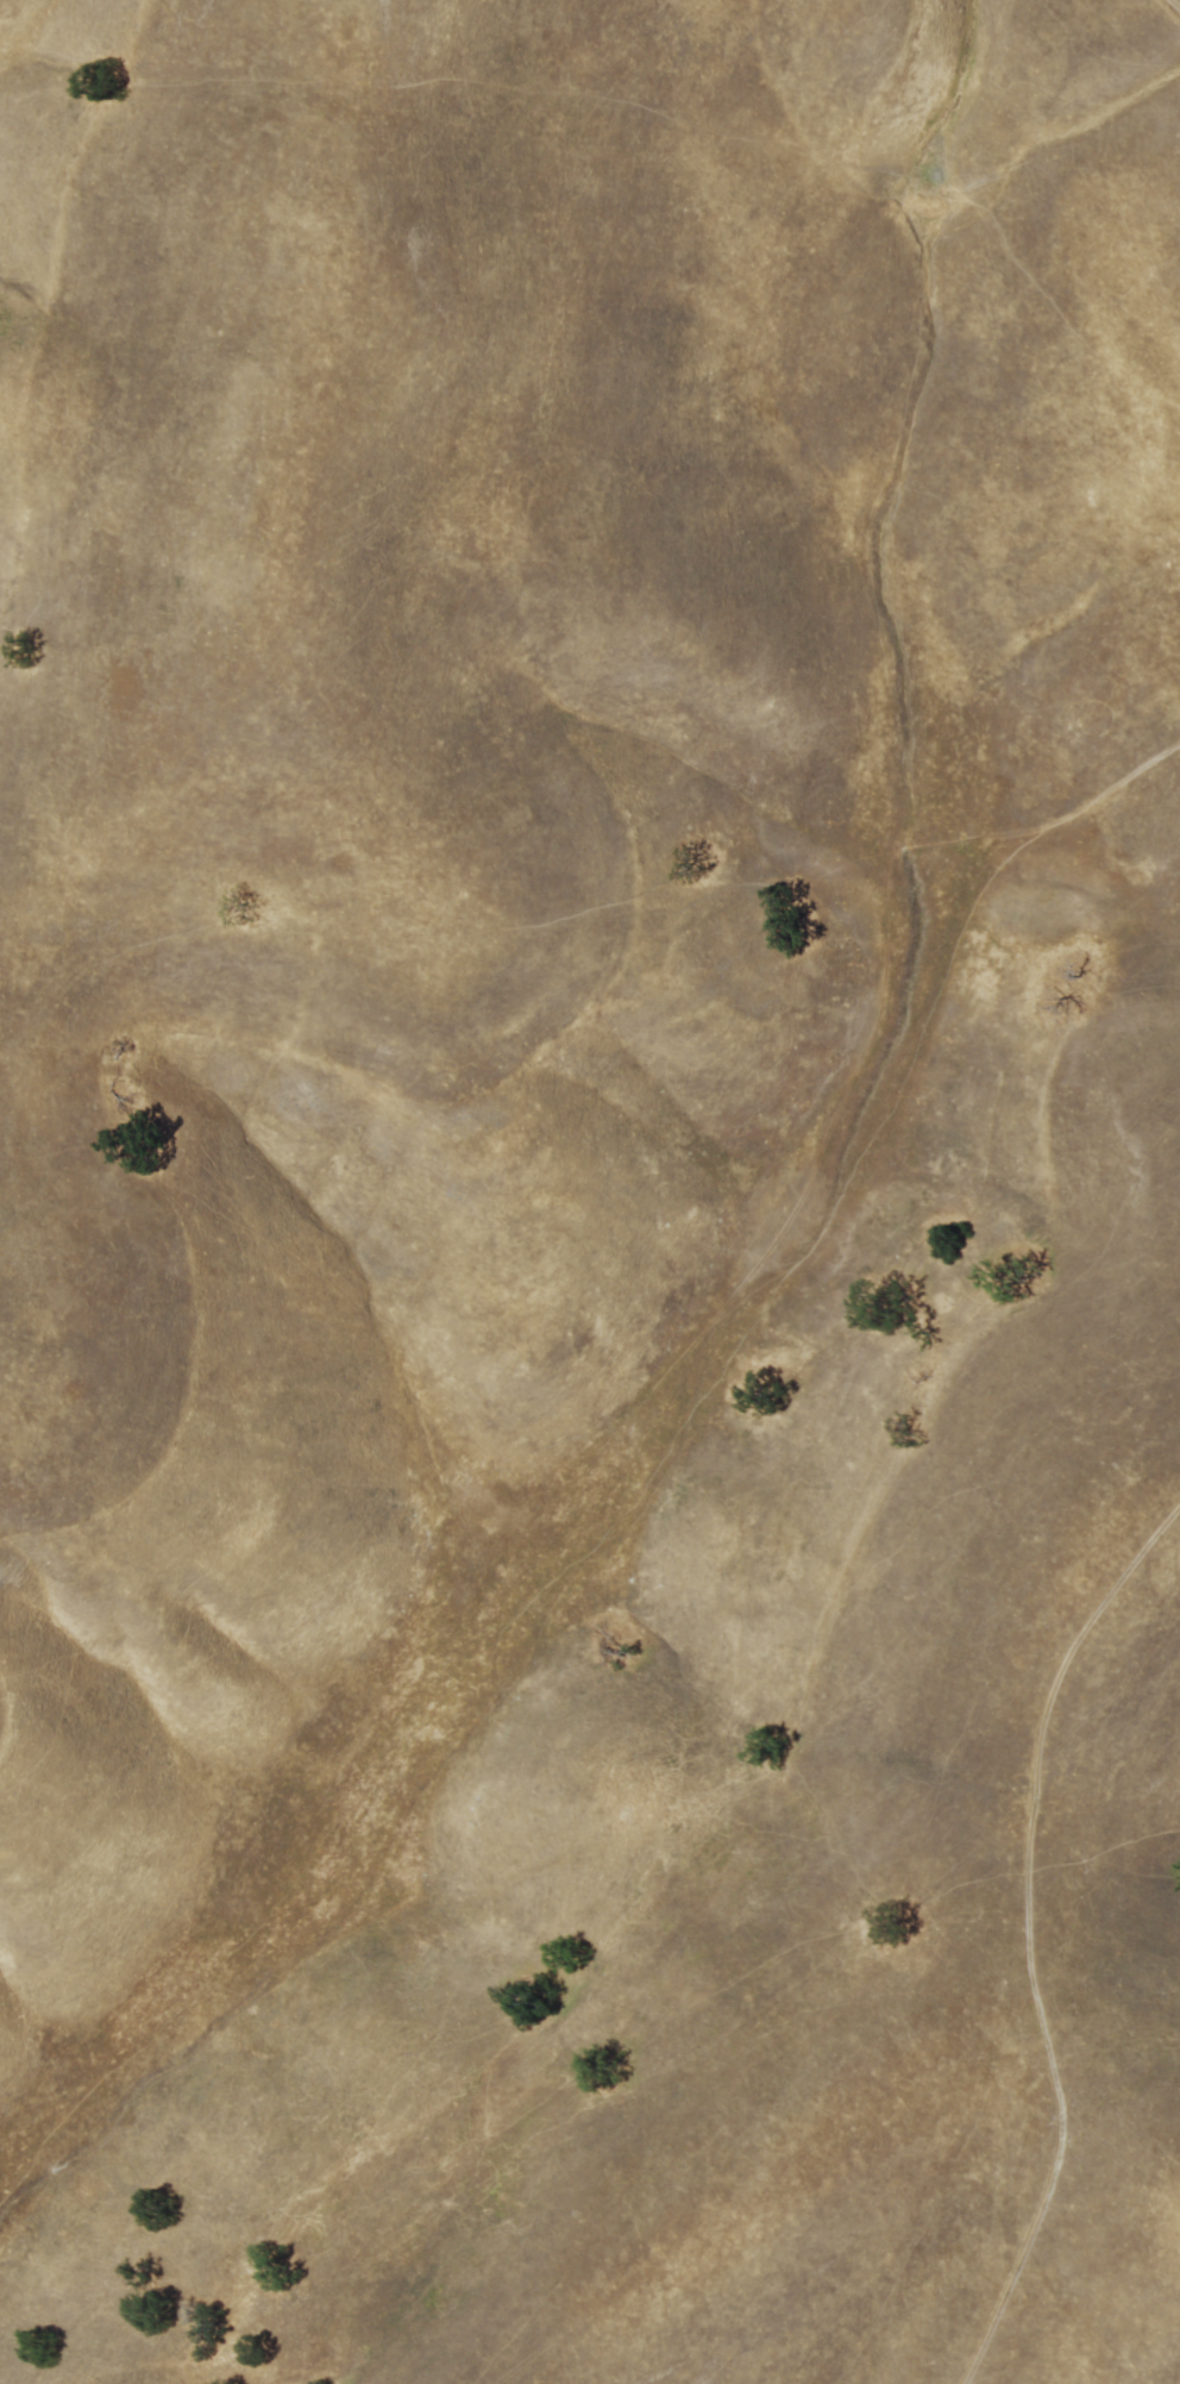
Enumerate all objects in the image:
road: (1172, 8)

